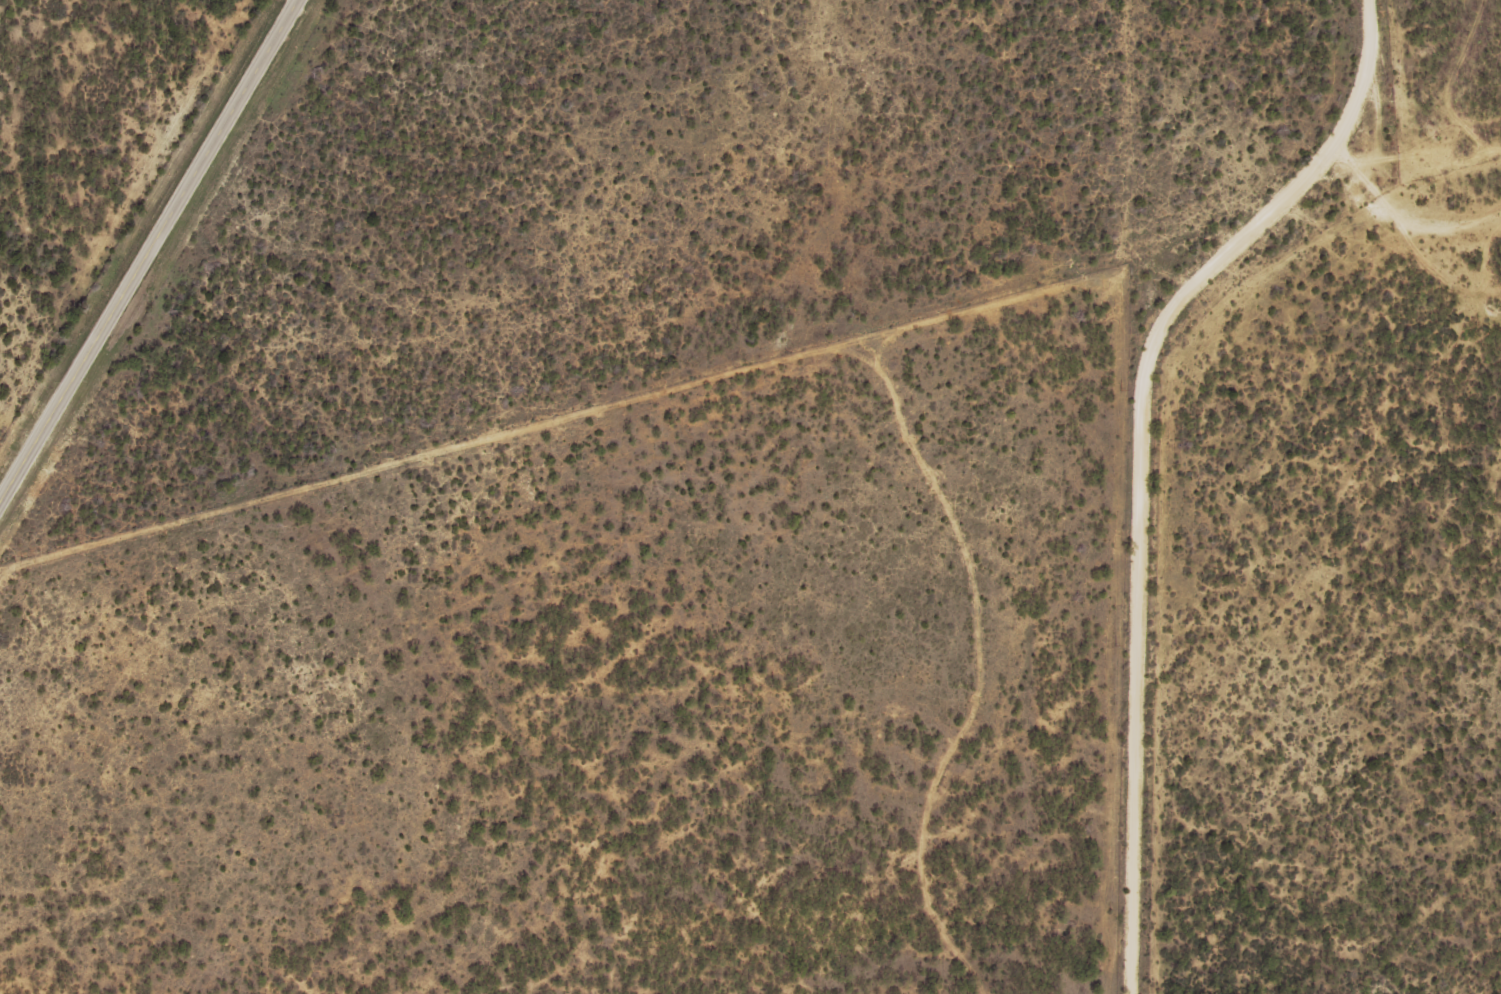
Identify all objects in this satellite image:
road: (150, 253)
road: (1143, 457)

